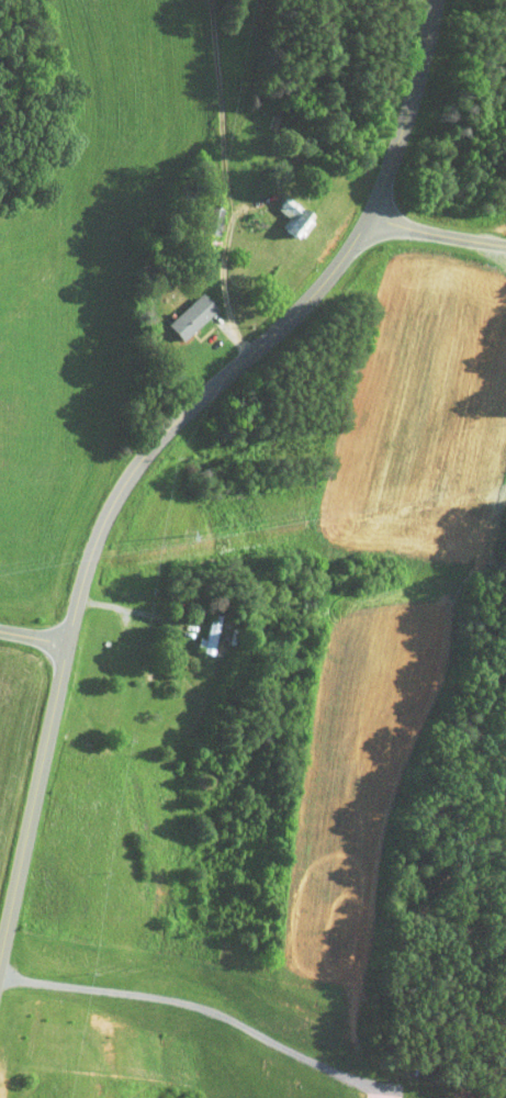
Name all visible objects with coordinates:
road: (225, 180)
road: (435, 234)
building: (173, 310)
road: (155, 444)
power tower: (173, 535)
power tower: (74, 553)
road: (128, 609)
building: (194, 629)
road: (33, 635)
road: (200, 1008)

